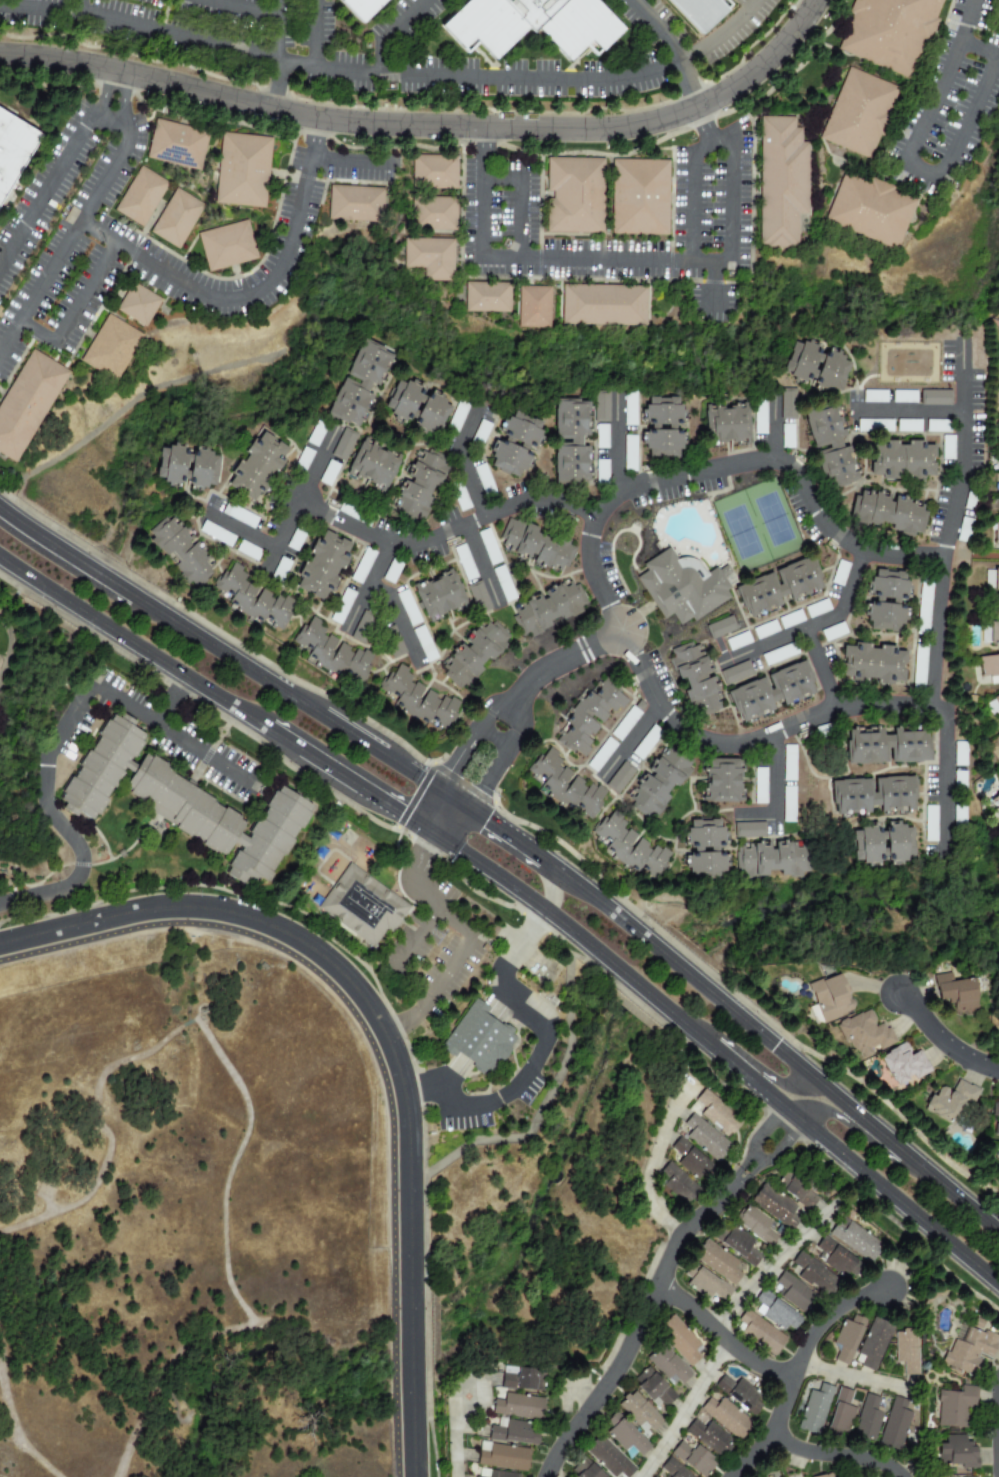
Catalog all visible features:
road: (39, 6)
building: (368, 7)
road: (240, 8)
building: (707, 10)
road: (964, 21)
building: (537, 24)
road: (392, 31)
road: (280, 32)
building: (890, 32)
road: (314, 33)
road: (176, 36)
building: (920, 55)
road: (686, 58)
road: (100, 90)
road: (125, 102)
building: (859, 113)
road: (701, 114)
road: (429, 126)
building: (179, 144)
building: (13, 149)
road: (350, 160)
road: (112, 162)
building: (245, 171)
building: (437, 173)
road: (939, 174)
building: (782, 179)
road: (45, 186)
building: (578, 195)
road: (522, 197)
building: (644, 197)
building: (142, 198)
road: (728, 201)
building: (358, 204)
building: (869, 210)
building: (436, 214)
building: (178, 220)
building: (230, 247)
building: (433, 258)
road: (714, 271)
road: (179, 283)
building: (489, 298)
building: (140, 305)
building: (607, 305)
building: (537, 306)
road: (73, 309)
building: (113, 349)
building: (817, 369)
building: (362, 386)
road: (138, 395)
building: (874, 396)
building: (934, 398)
building: (27, 404)
building: (787, 405)
building: (601, 406)
building: (629, 408)
road: (911, 410)
building: (421, 411)
building: (457, 417)
building: (760, 417)
road: (777, 419)
building: (733, 426)
building: (908, 426)
building: (998, 429)
building: (481, 431)
building: (669, 431)
building: (315, 434)
building: (786, 435)
building: (601, 436)
road: (621, 437)
building: (577, 443)
building: (343, 444)
building: (946, 447)
building: (523, 448)
building: (830, 449)
building: (629, 450)
building: (305, 456)
road: (464, 458)
building: (903, 463)
building: (998, 466)
building: (261, 469)
building: (190, 470)
building: (378, 471)
building: (328, 473)
building: (482, 475)
building: (423, 486)
road: (304, 498)
building: (998, 507)
building: (888, 514)
building: (239, 515)
road: (448, 529)
road: (243, 531)
building: (996, 533)
building: (216, 534)
building: (294, 540)
building: (540, 549)
building: (184, 552)
road: (971, 556)
road: (593, 557)
building: (464, 563)
road: (480, 564)
building: (362, 566)
building: (326, 569)
building: (390, 573)
building: (839, 573)
road: (81, 577)
building: (996, 579)
building: (503, 583)
road: (370, 585)
building: (779, 591)
building: (683, 592)
road: (941, 592)
building: (478, 597)
building: (449, 600)
building: (257, 602)
building: (890, 603)
building: (996, 605)
building: (342, 606)
building: (407, 608)
building: (817, 608)
road: (154, 609)
building: (552, 611)
road: (399, 619)
building: (790, 619)
building: (362, 627)
building: (720, 627)
road: (812, 627)
building: (765, 630)
building: (833, 632)
building: (994, 632)
building: (737, 641)
road: (132, 644)
building: (336, 653)
building: (778, 654)
building: (481, 655)
road: (567, 659)
building: (989, 665)
building: (877, 666)
building: (918, 666)
road: (824, 668)
building: (735, 673)
building: (701, 680)
building: (776, 694)
building: (996, 701)
road: (174, 702)
building: (420, 702)
road: (495, 708)
road: (516, 722)
building: (583, 723)
building: (625, 723)
road: (346, 731)
road: (59, 734)
road: (492, 738)
road: (282, 739)
road: (630, 742)
building: (643, 745)
building: (959, 753)
building: (601, 754)
road: (456, 759)
building: (884, 760)
traffic signals: (453, 765)
road: (332, 771)
road: (411, 773)
building: (619, 778)
road: (487, 779)
road: (463, 783)
building: (727, 783)
building: (662, 784)
building: (759, 786)
building: (571, 788)
road: (774, 788)
building: (872, 794)
road: (415, 795)
road: (452, 799)
building: (995, 803)
building: (187, 804)
road: (393, 809)
road: (431, 809)
traffic signals: (394, 810)
traffic signals: (485, 820)
road: (451, 822)
building: (930, 823)
building: (749, 830)
road: (503, 832)
road: (429, 833)
road: (420, 837)
building: (879, 842)
road: (430, 843)
traffic signals: (421, 847)
building: (631, 848)
building: (781, 853)
building: (714, 856)
road: (550, 885)
road: (427, 898)
road: (596, 900)
road: (533, 902)
building: (362, 905)
road: (415, 943)
road: (672, 962)
road: (511, 963)
road: (436, 989)
building: (955, 991)
road: (646, 993)
building: (829, 997)
road: (197, 1013)
road: (188, 1023)
building: (863, 1032)
road: (386, 1037)
building: (484, 1040)
road: (942, 1041)
traffic signals: (775, 1047)
road: (373, 1050)
road: (745, 1057)
building: (902, 1064)
road: (523, 1082)
road: (443, 1085)
building: (949, 1100)
road: (847, 1107)
road: (542, 1109)
building: (716, 1113)
building: (995, 1119)
road: (765, 1127)
road: (96, 1132)
road: (108, 1135)
road: (861, 1135)
building: (705, 1138)
road: (784, 1142)
road: (834, 1149)
road: (757, 1156)
building: (690, 1160)
road: (650, 1162)
road: (741, 1167)
road: (749, 1174)
building: (677, 1184)
building: (799, 1192)
road: (47, 1201)
park: (195, 1214)
building: (756, 1225)
building: (854, 1239)
building: (739, 1245)
building: (838, 1260)
building: (718, 1262)
road: (765, 1266)
road: (227, 1275)
road: (661, 1275)
building: (814, 1275)
building: (705, 1283)
building: (793, 1292)
building: (776, 1312)
road: (823, 1319)
road: (263, 1323)
building: (759, 1333)
building: (847, 1339)
building: (680, 1340)
building: (872, 1344)
building: (906, 1350)
building: (968, 1350)
building: (667, 1366)
road: (767, 1369)
road: (595, 1374)
road: (849, 1377)
building: (521, 1379)
building: (652, 1388)
road: (581, 1389)
building: (739, 1394)
road: (173, 1397)
building: (954, 1406)
building: (518, 1407)
road: (684, 1410)
building: (814, 1410)
building: (639, 1413)
building: (840, 1413)
building: (724, 1417)
road: (11, 1420)
building: (867, 1420)
building: (894, 1425)
road: (573, 1428)
building: (513, 1433)
road: (453, 1434)
building: (625, 1435)
building: (710, 1437)
road: (998, 1446)
building: (956, 1451)
road: (836, 1455)
building: (502, 1457)
building: (607, 1457)
building: (693, 1458)
building: (673, 1469)
building: (585, 1470)
building: (494, 1474)
building: (825, 1475)

